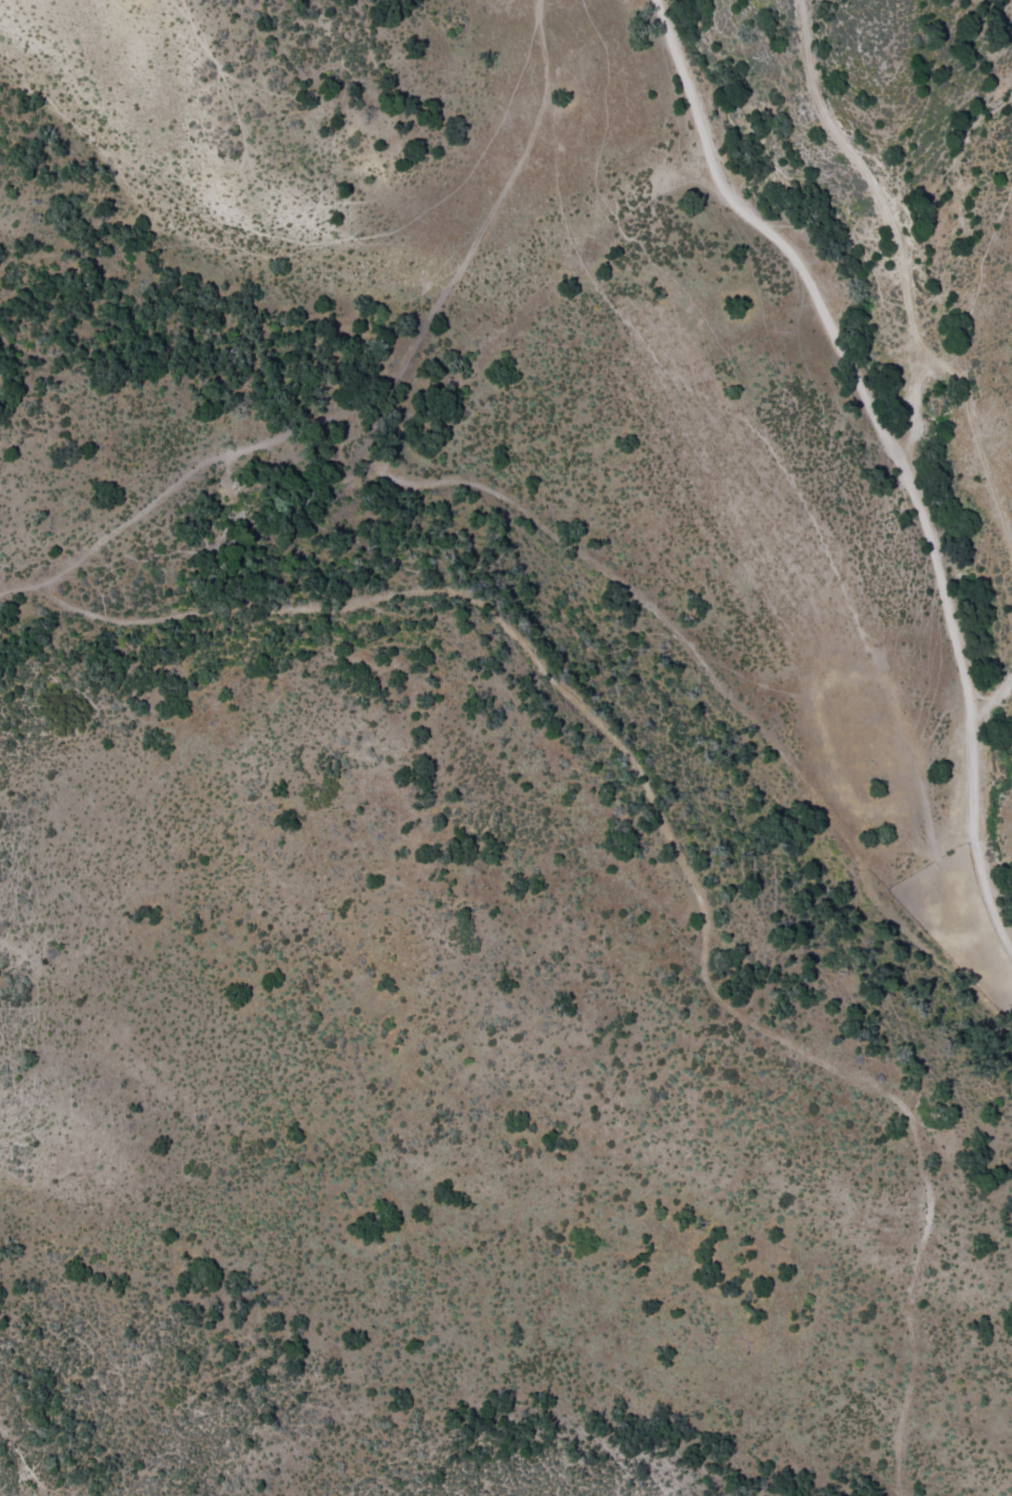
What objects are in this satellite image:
road: (880, 197)
road: (777, 235)
road: (726, 406)
road: (403, 444)
road: (949, 602)
road: (662, 821)
road: (986, 875)

